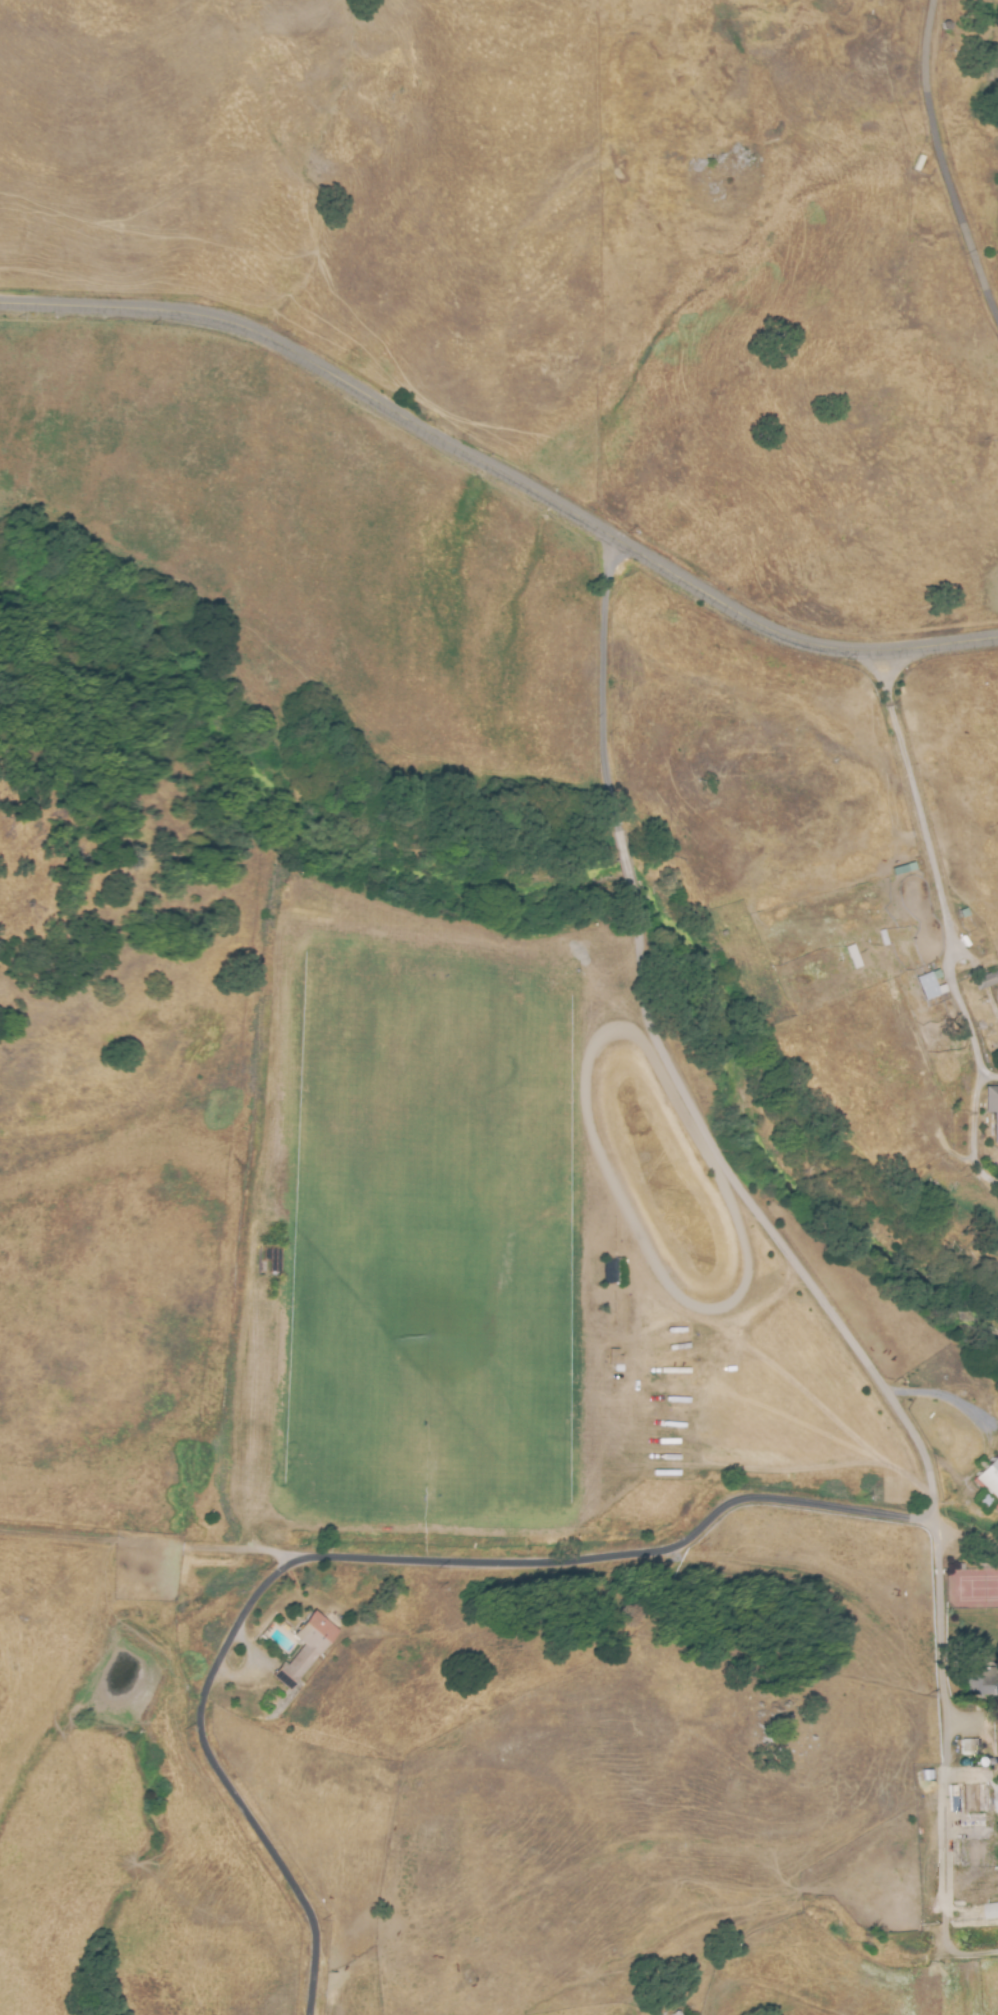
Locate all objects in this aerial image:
road: (944, 156)
road: (502, 474)
road: (601, 696)
road: (930, 860)
road: (625, 875)
building: (885, 937)
building: (936, 965)
building: (988, 980)
building: (931, 986)
building: (993, 1109)
road: (761, 1214)
park: (433, 1236)
building: (987, 1486)
road: (615, 1556)
park: (972, 1590)
building: (304, 1650)
building: (985, 1686)
building: (965, 1749)
road: (945, 1763)
road: (221, 1782)
building: (995, 1793)
building: (971, 1804)
building: (973, 1851)
building: (992, 1910)

